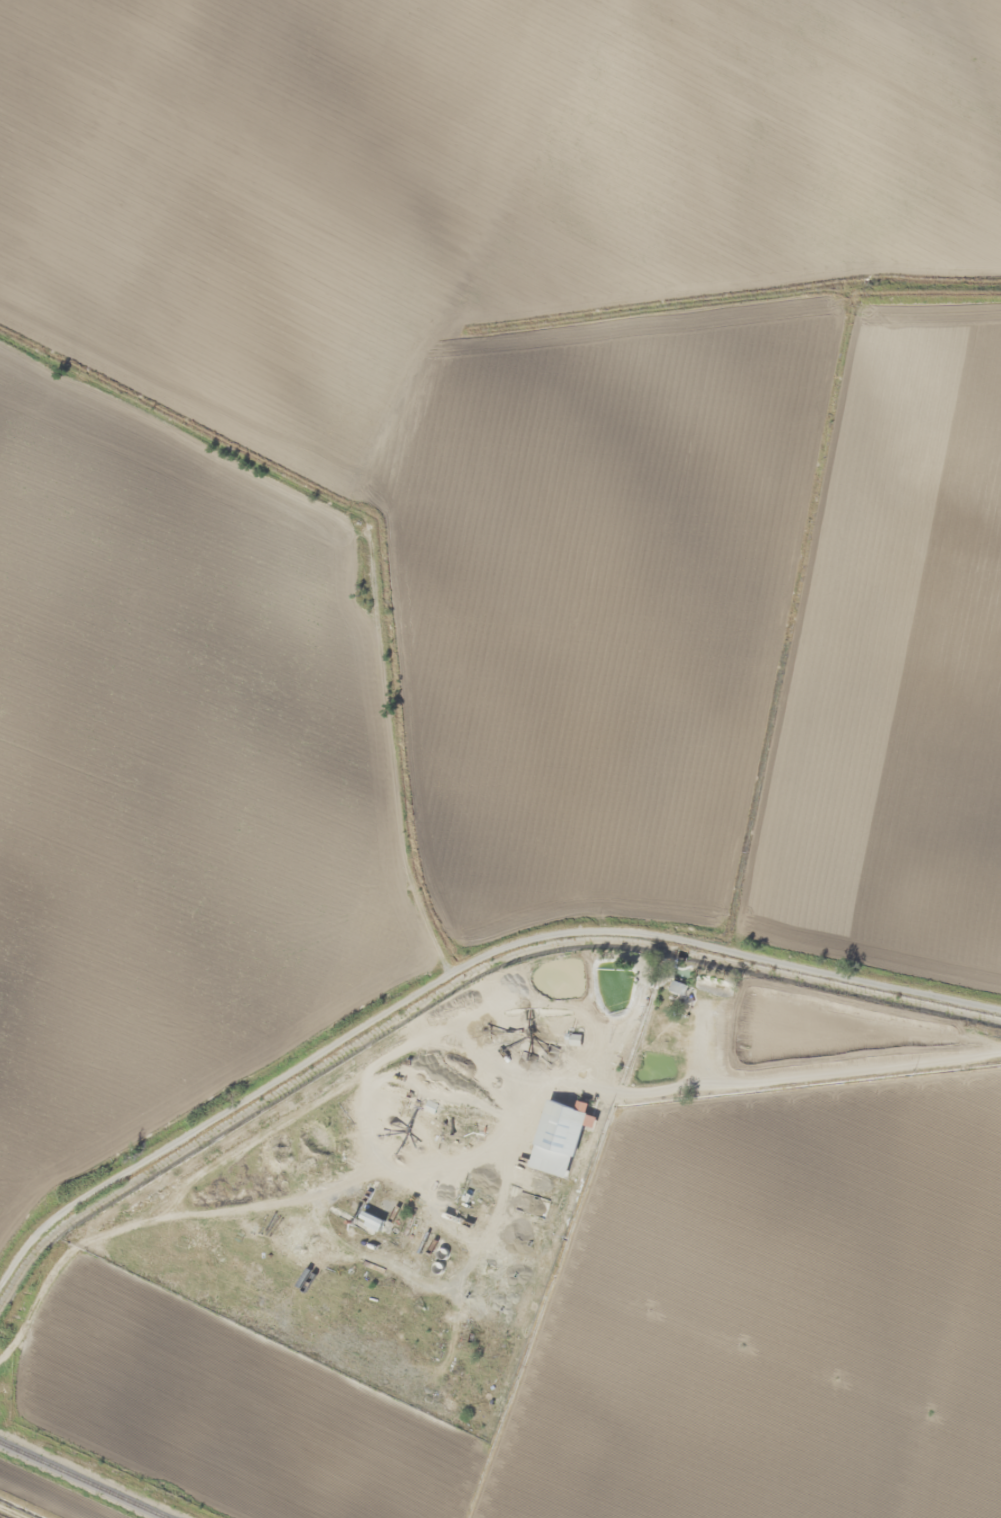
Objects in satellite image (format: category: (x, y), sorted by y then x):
railway: (82, 1480)

